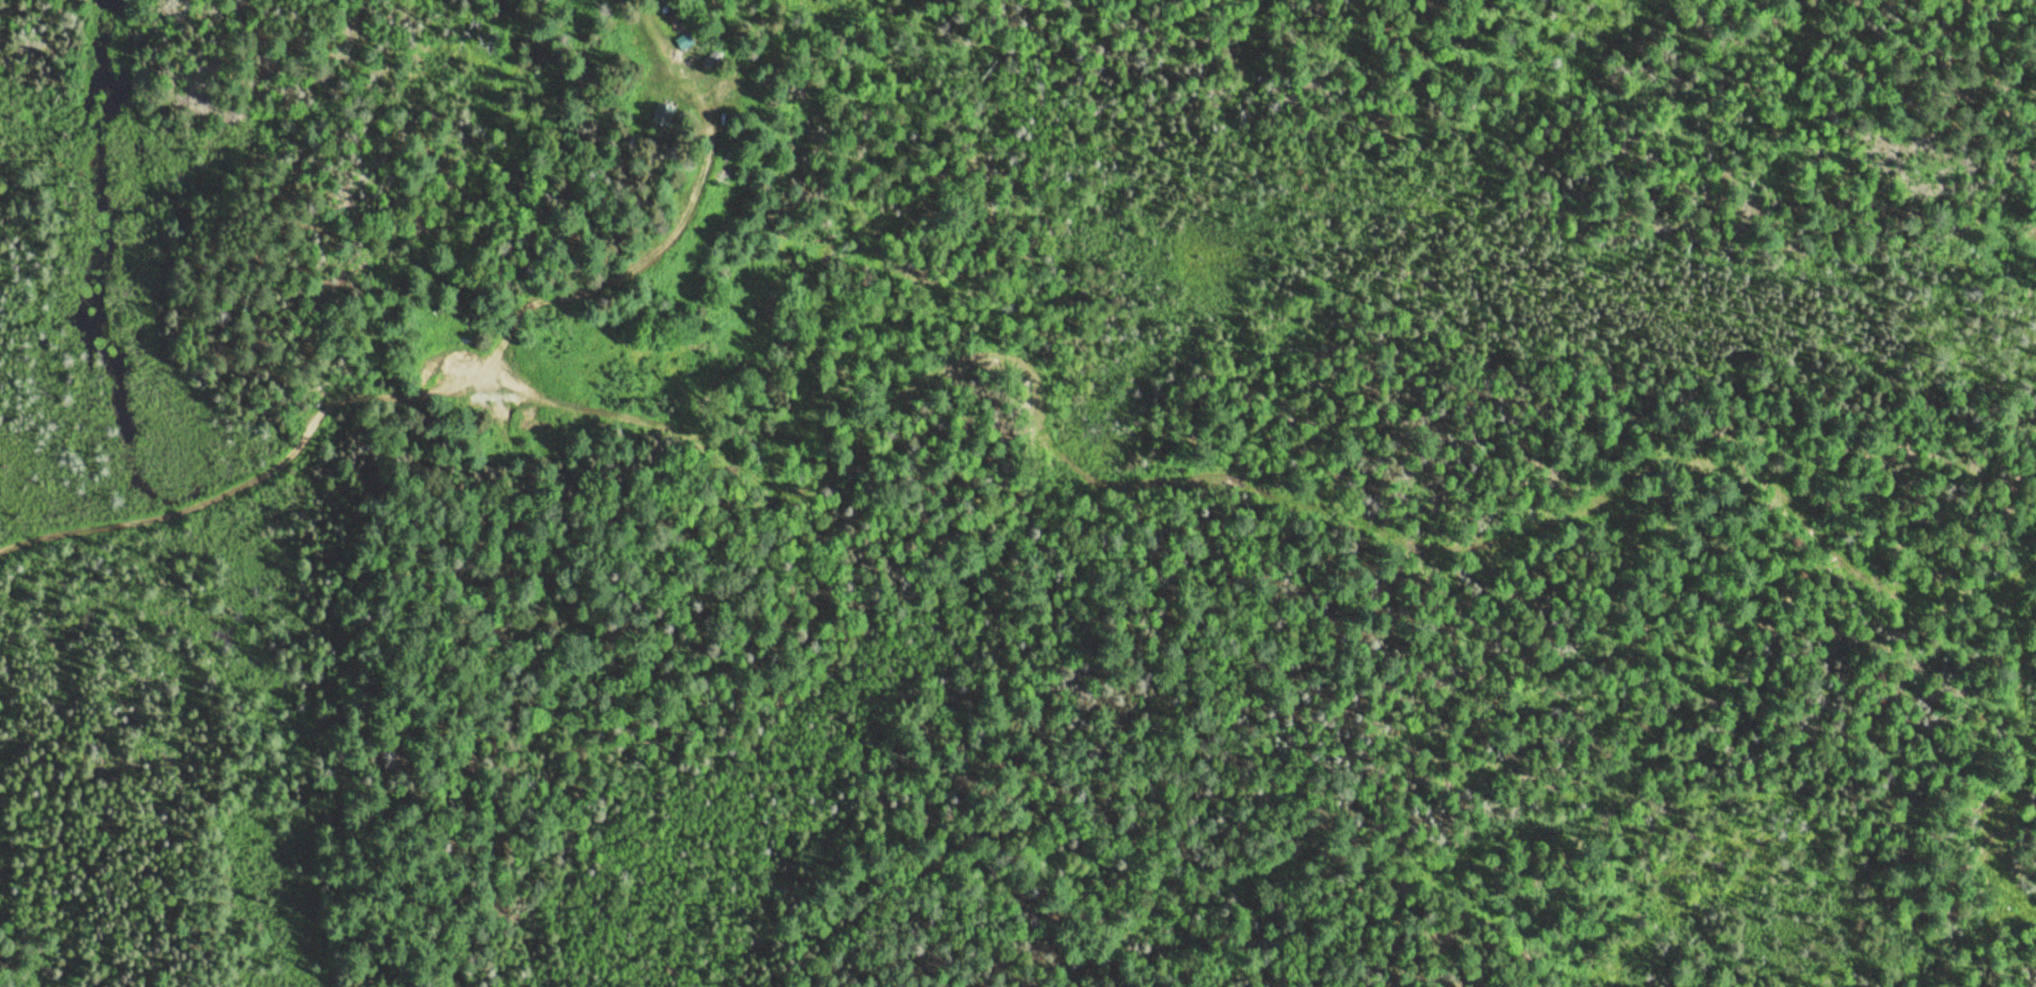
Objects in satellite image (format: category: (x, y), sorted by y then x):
building: (712, 58)
building: (666, 112)

